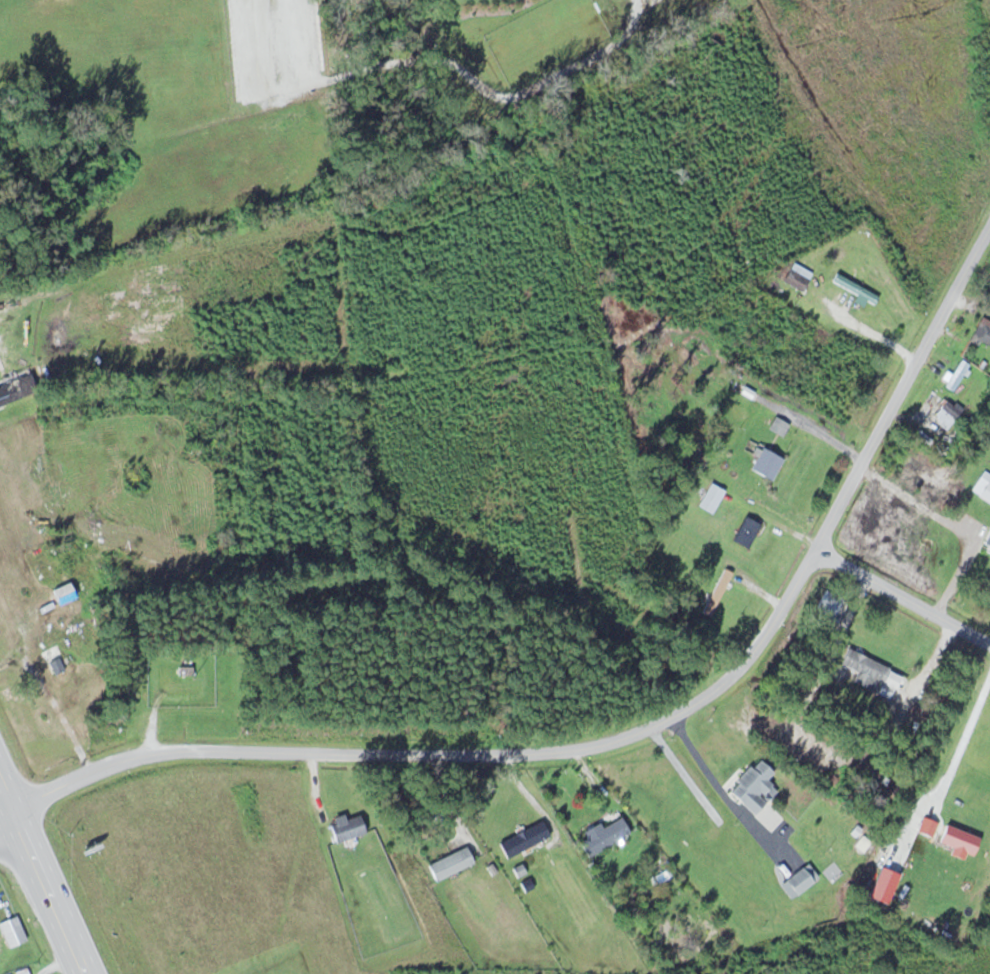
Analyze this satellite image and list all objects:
building: (793, 276)
building: (854, 287)
building: (956, 375)
building: (17, 387)
building: (942, 417)
building: (777, 426)
building: (764, 463)
building: (710, 498)
building: (744, 532)
building: (986, 539)
building: (60, 594)
road: (902, 597)
building: (55, 667)
building: (863, 670)
road: (629, 732)
building: (751, 786)
road: (4, 801)
road: (4, 815)
building: (684, 823)
building: (344, 827)
building: (926, 827)
building: (602, 836)
building: (522, 839)
building: (957, 841)
building: (449, 864)
building: (801, 879)
road: (45, 893)
building: (11, 931)
building: (21, 972)

